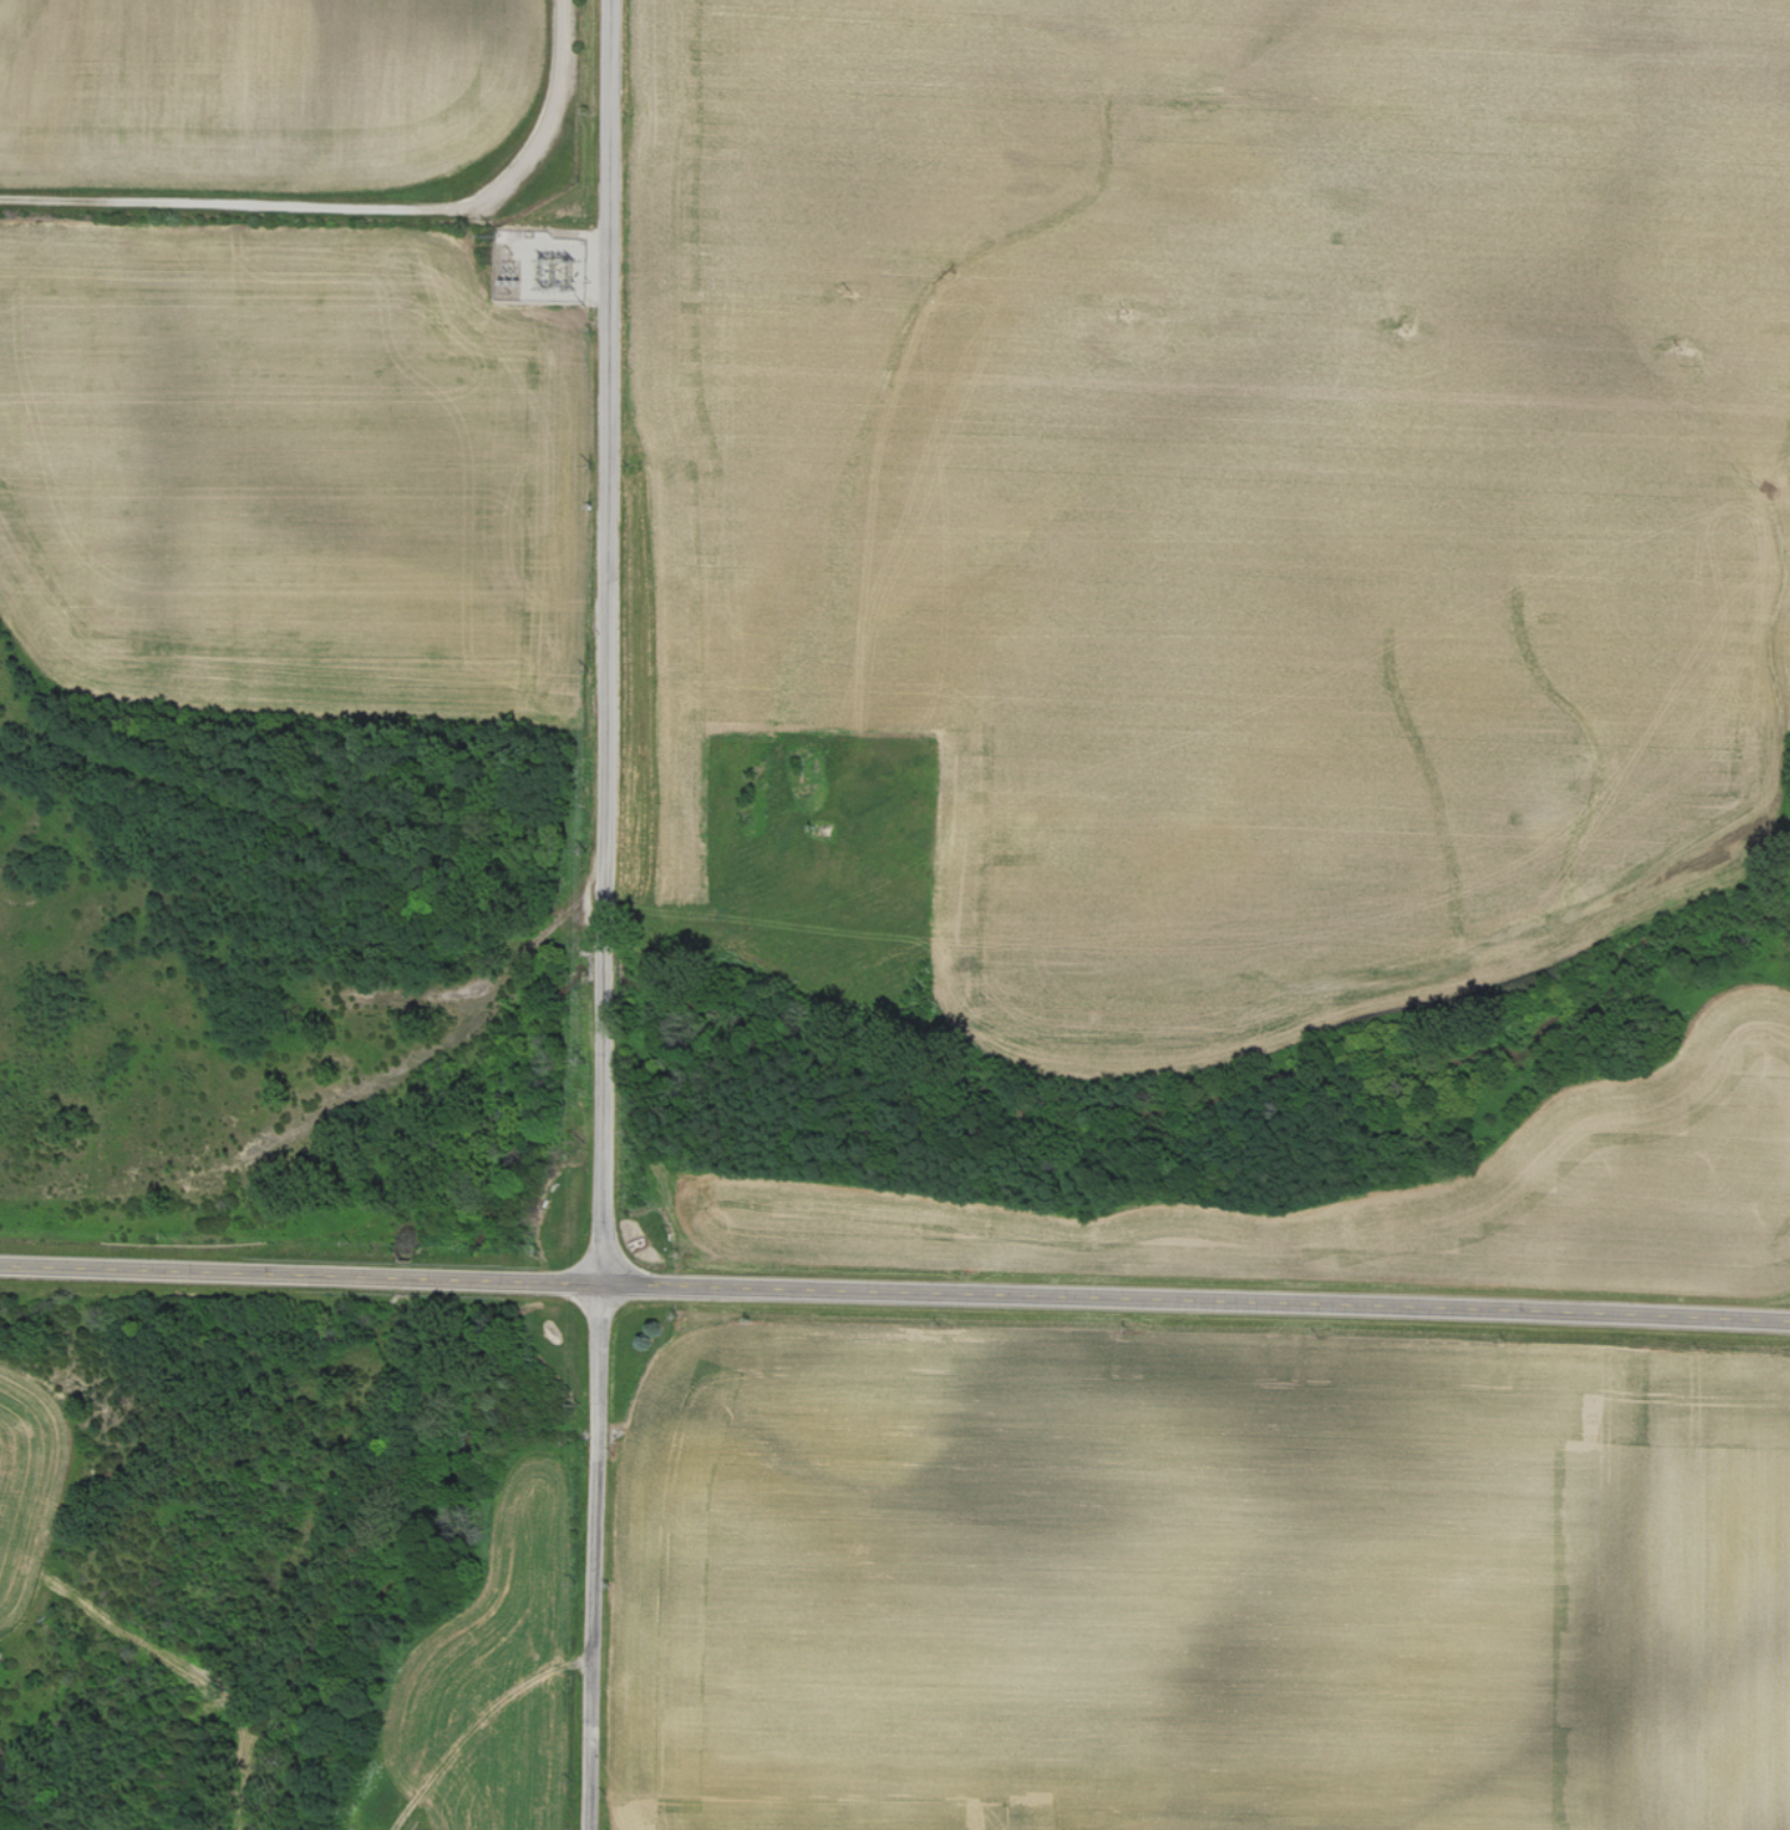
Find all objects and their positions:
road: (357, 207)
road: (609, 915)
road: (894, 1295)

